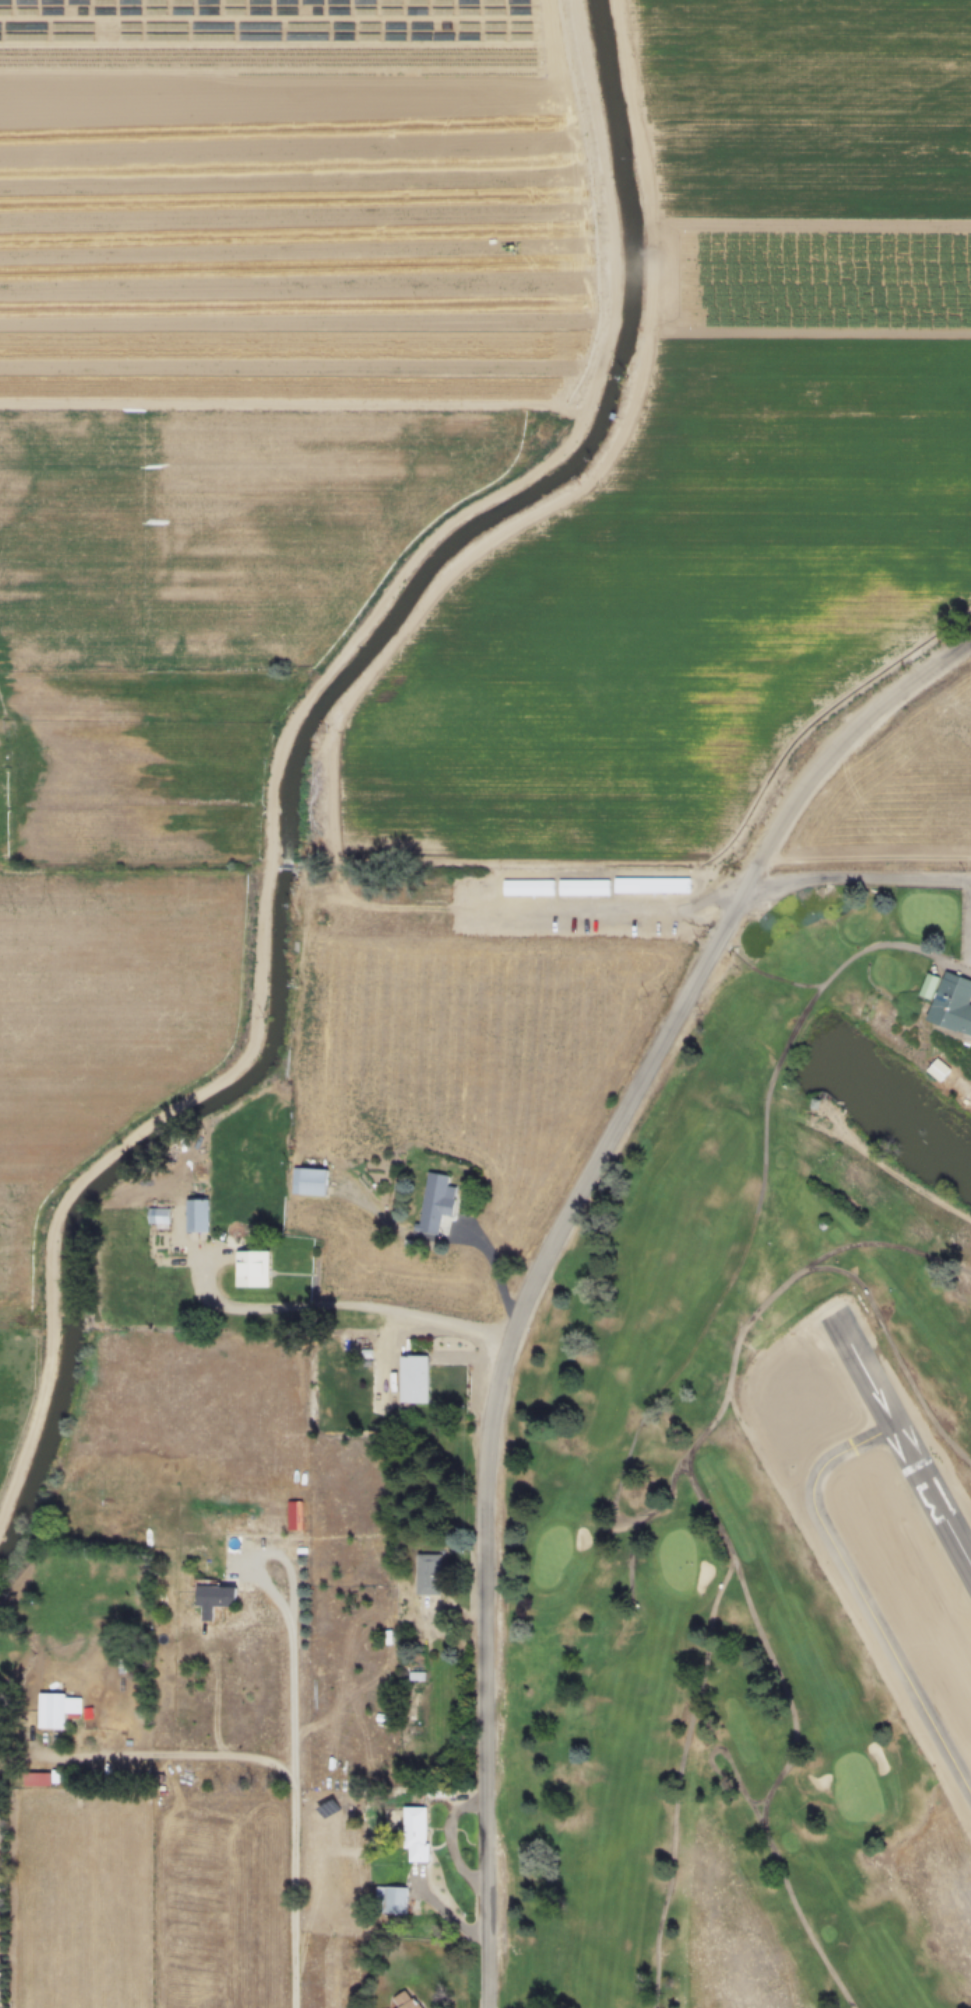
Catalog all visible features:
road: (282, 749)
road: (863, 885)
building: (660, 890)
building: (536, 892)
building: (592, 892)
road: (368, 900)
building: (957, 1004)
building: (946, 1074)
building: (320, 1184)
building: (446, 1205)
building: (208, 1218)
building: (170, 1219)
road: (469, 1237)
road: (547, 1260)
building: (264, 1272)
road: (339, 1307)
building: (424, 1381)
airport runway: (906, 1436)
airport: (882, 1509)
road: (249, 1547)
building: (440, 1576)
airport taxiway: (864, 1591)
building: (224, 1601)
building: (51, 1710)
road: (155, 1756)
building: (41, 1776)
road: (299, 1817)
building: (426, 1837)
building: (401, 1902)
building: (414, 2001)

